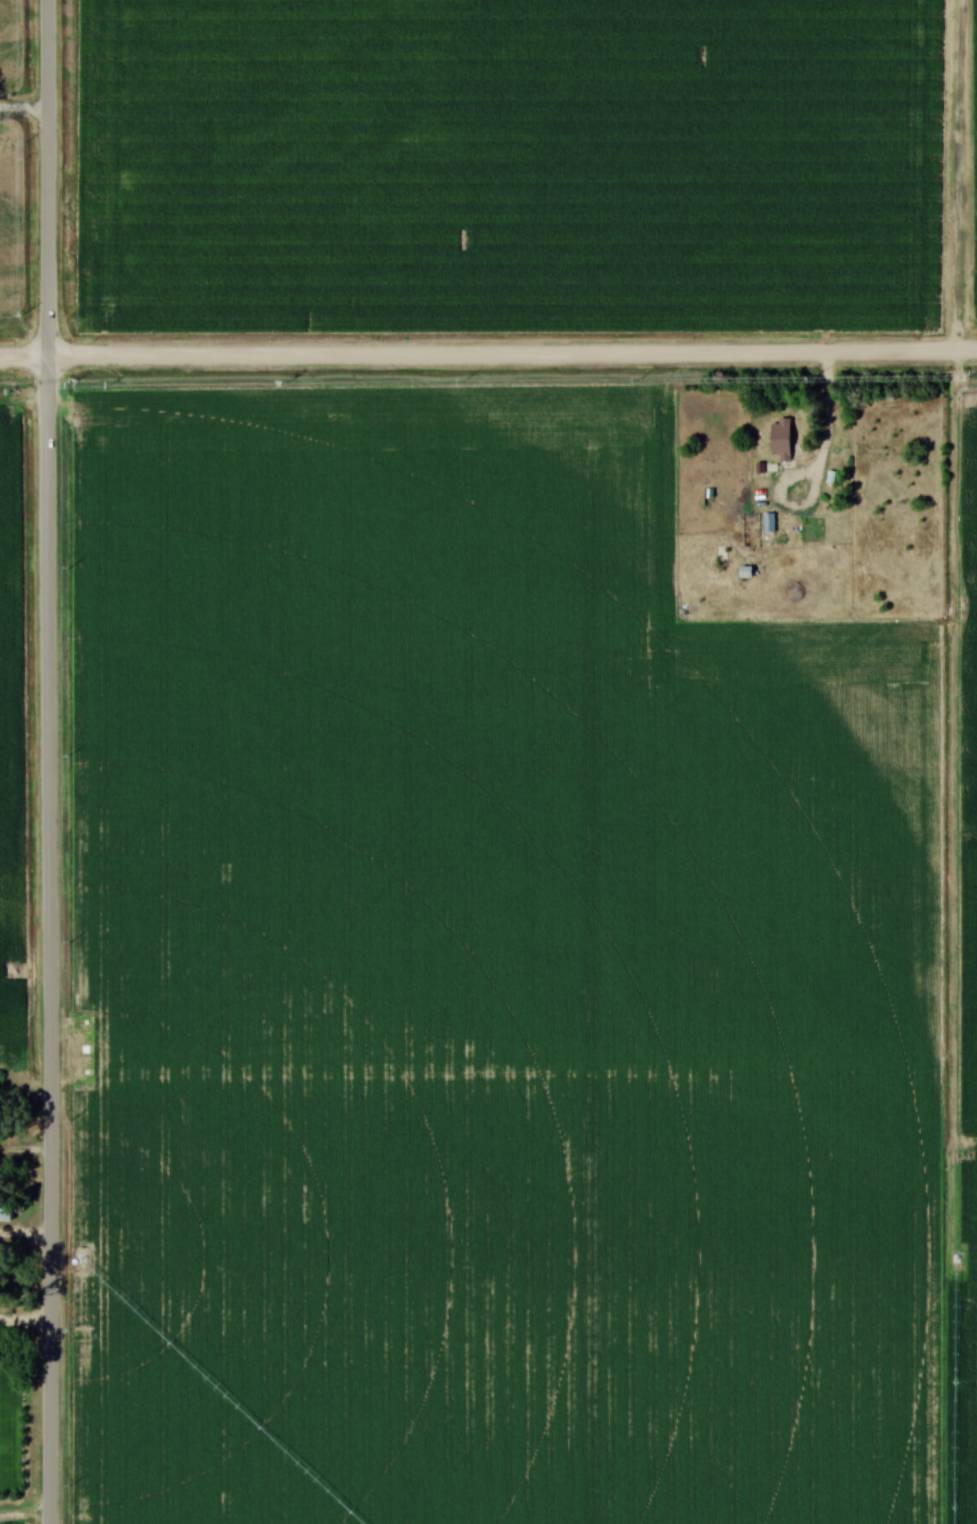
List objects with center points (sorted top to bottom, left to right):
road: (23, 109)
road: (488, 354)
road: (830, 405)
building: (781, 440)
road: (802, 506)
building: (769, 523)
building: (745, 573)
road: (48, 762)
road: (25, 1233)
road: (25, 1318)

